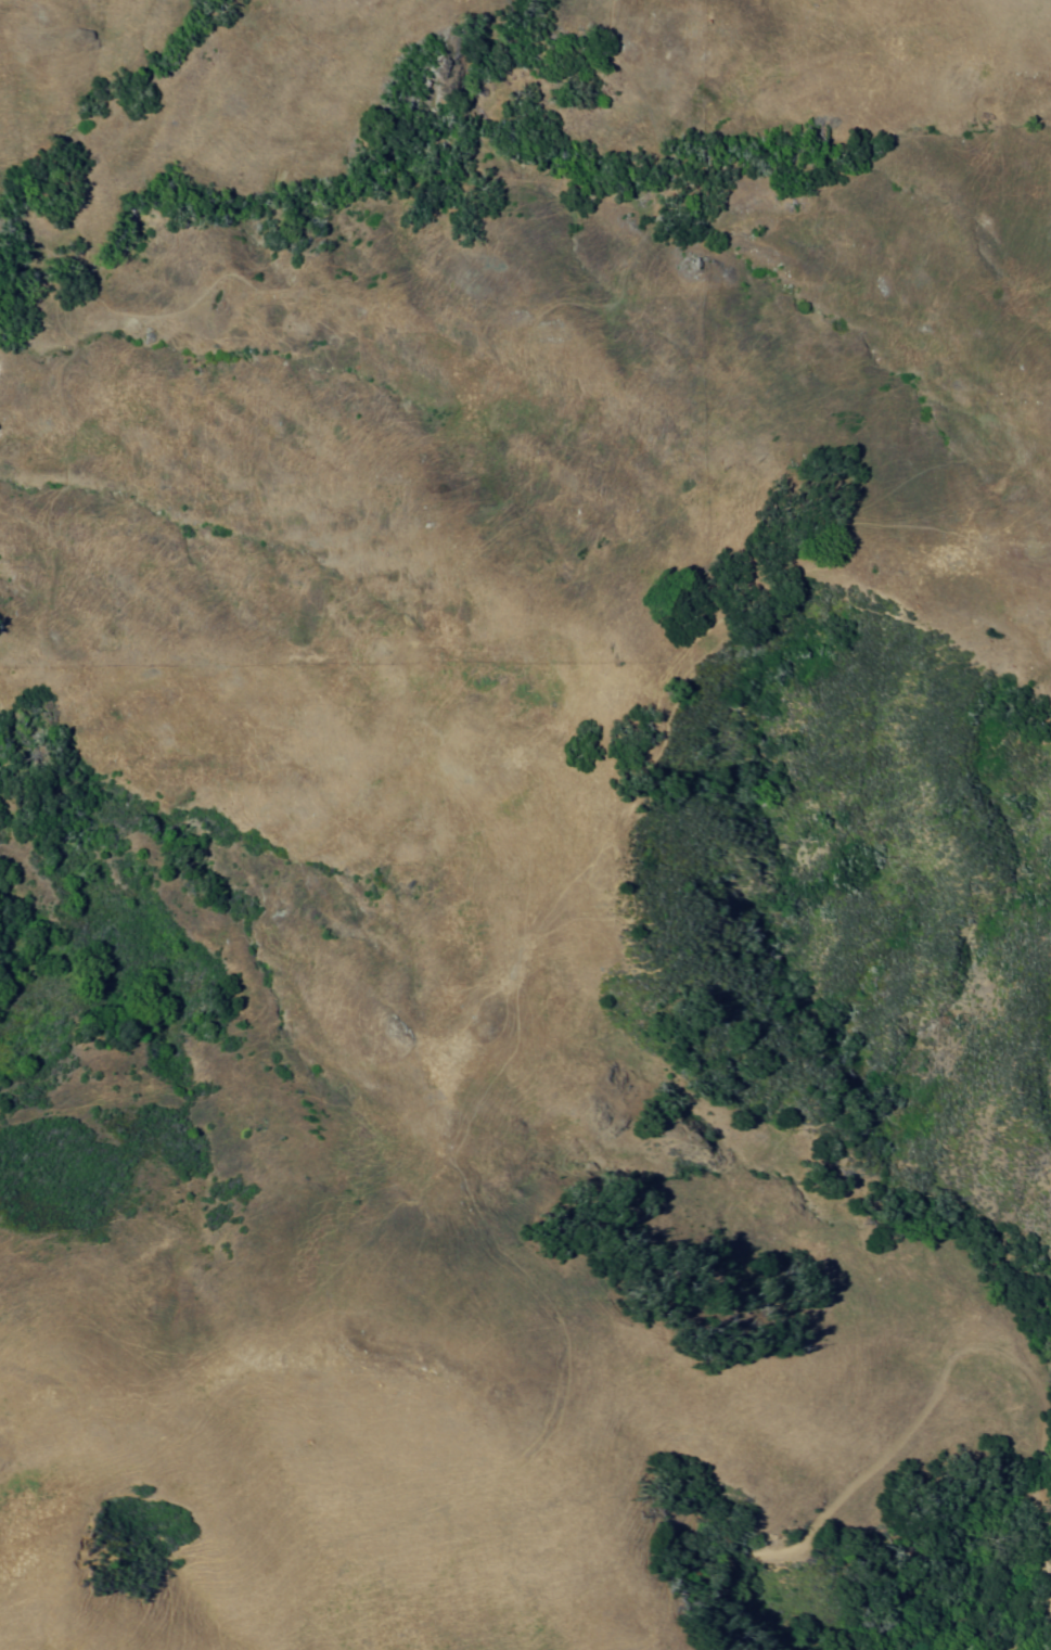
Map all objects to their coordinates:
road: (933, 1399)

